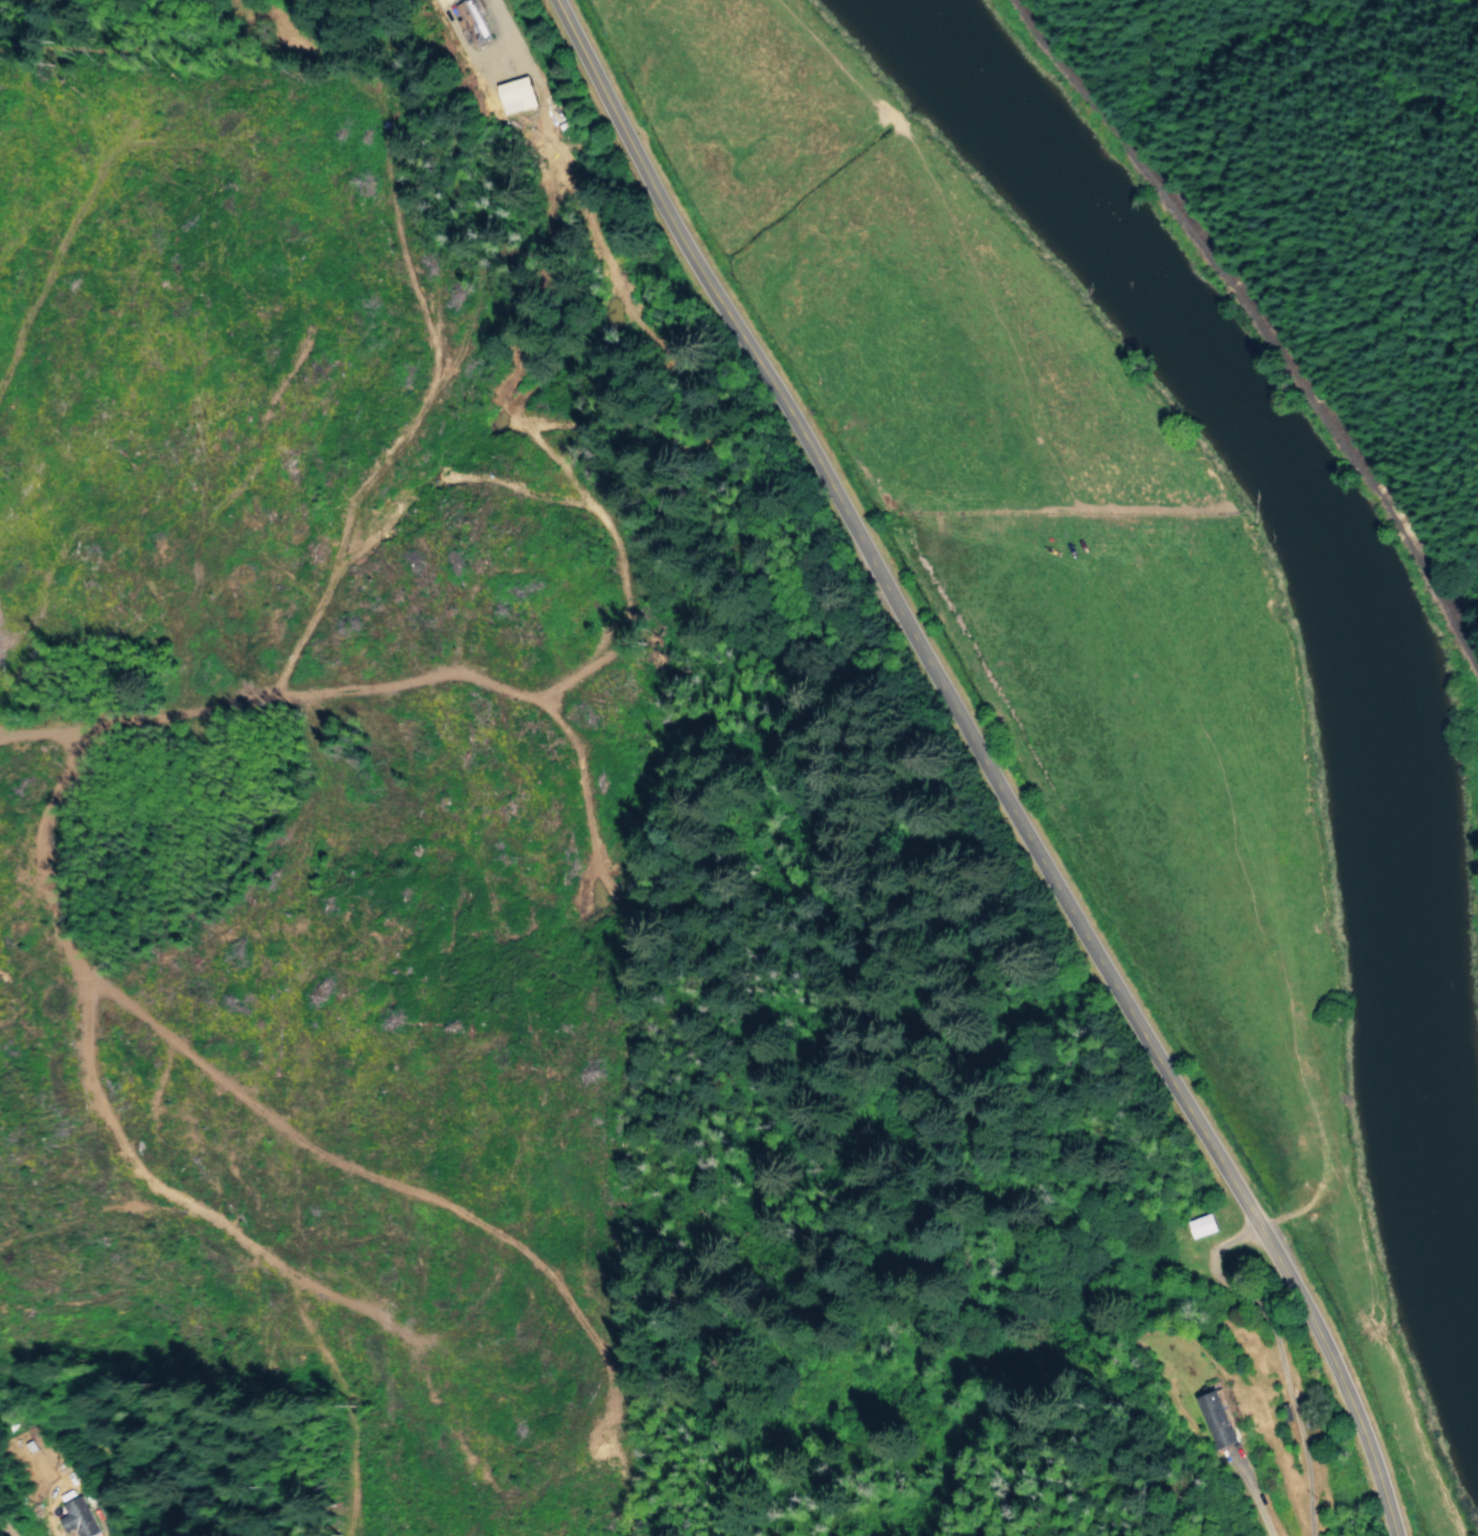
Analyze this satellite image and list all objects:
building: (514, 93)
railway: (1262, 333)
river: (1332, 571)
road: (971, 755)
road: (17, 792)
building: (1202, 1224)
building: (1214, 1416)
building: (80, 1518)

